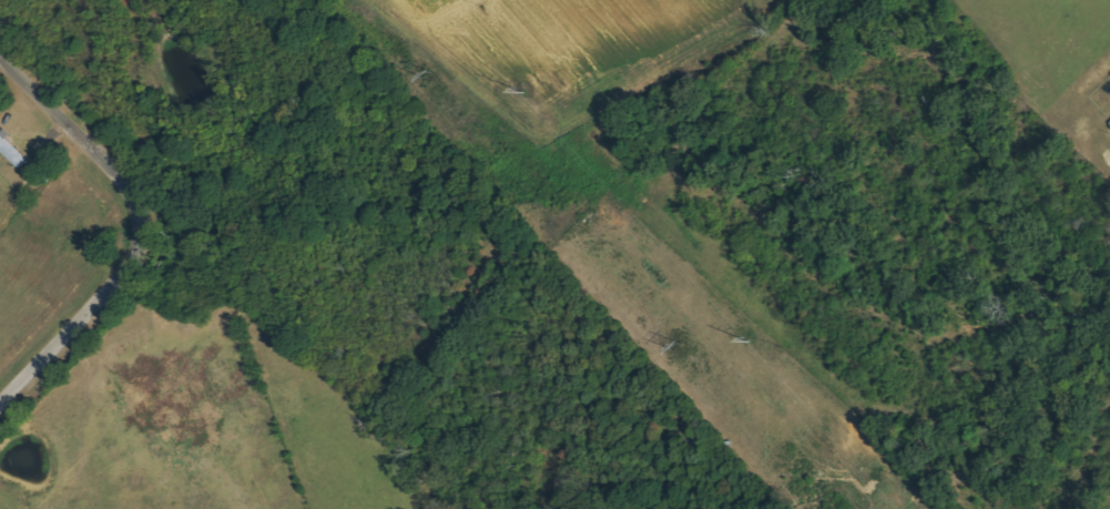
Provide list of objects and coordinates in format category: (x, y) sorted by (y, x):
power tower: (422, 74)
power tower: (519, 92)
building: (12, 151)
road: (160, 244)
power tower: (744, 342)
power tower: (669, 347)

